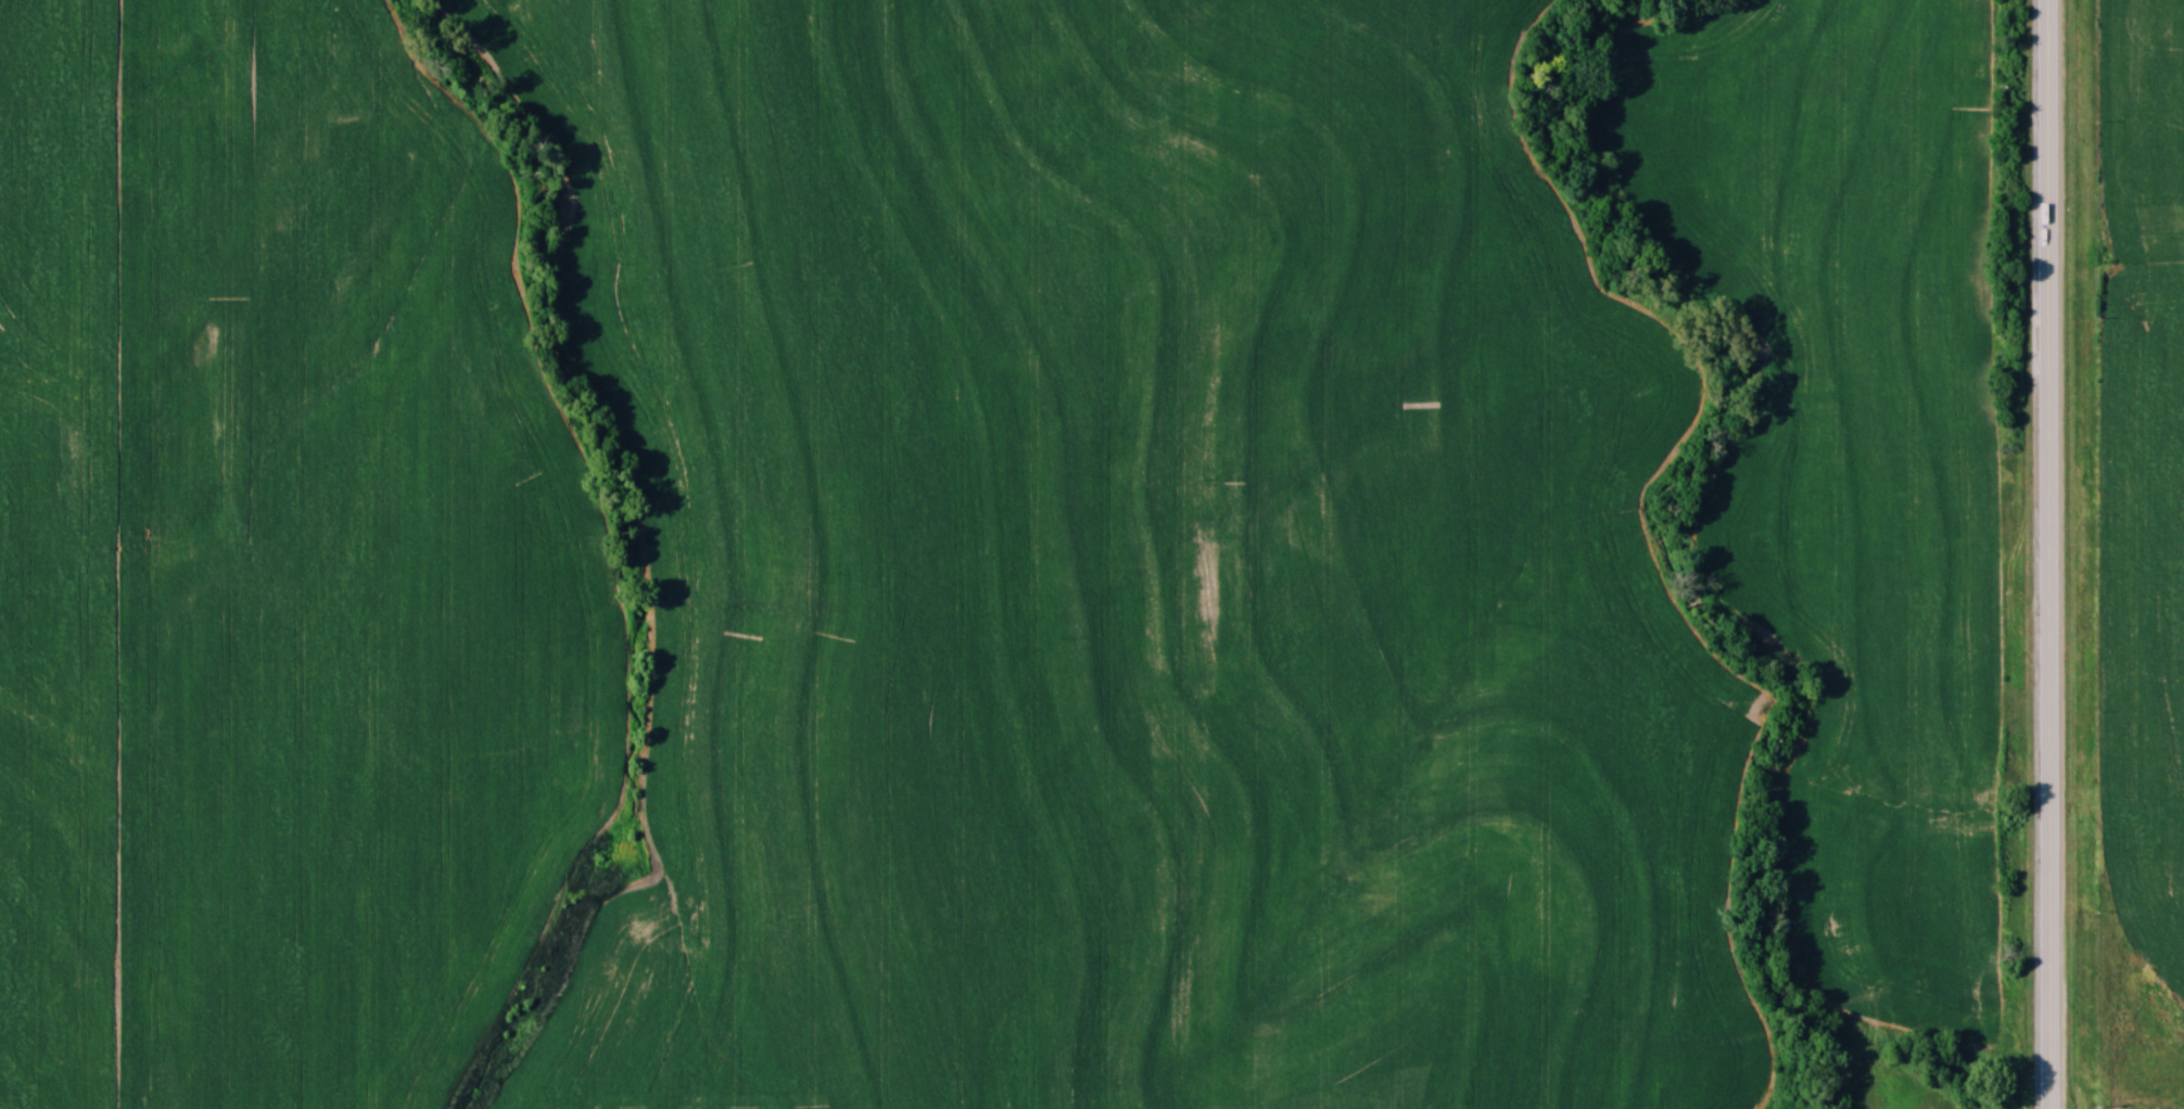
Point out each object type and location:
road: (2049, 553)

